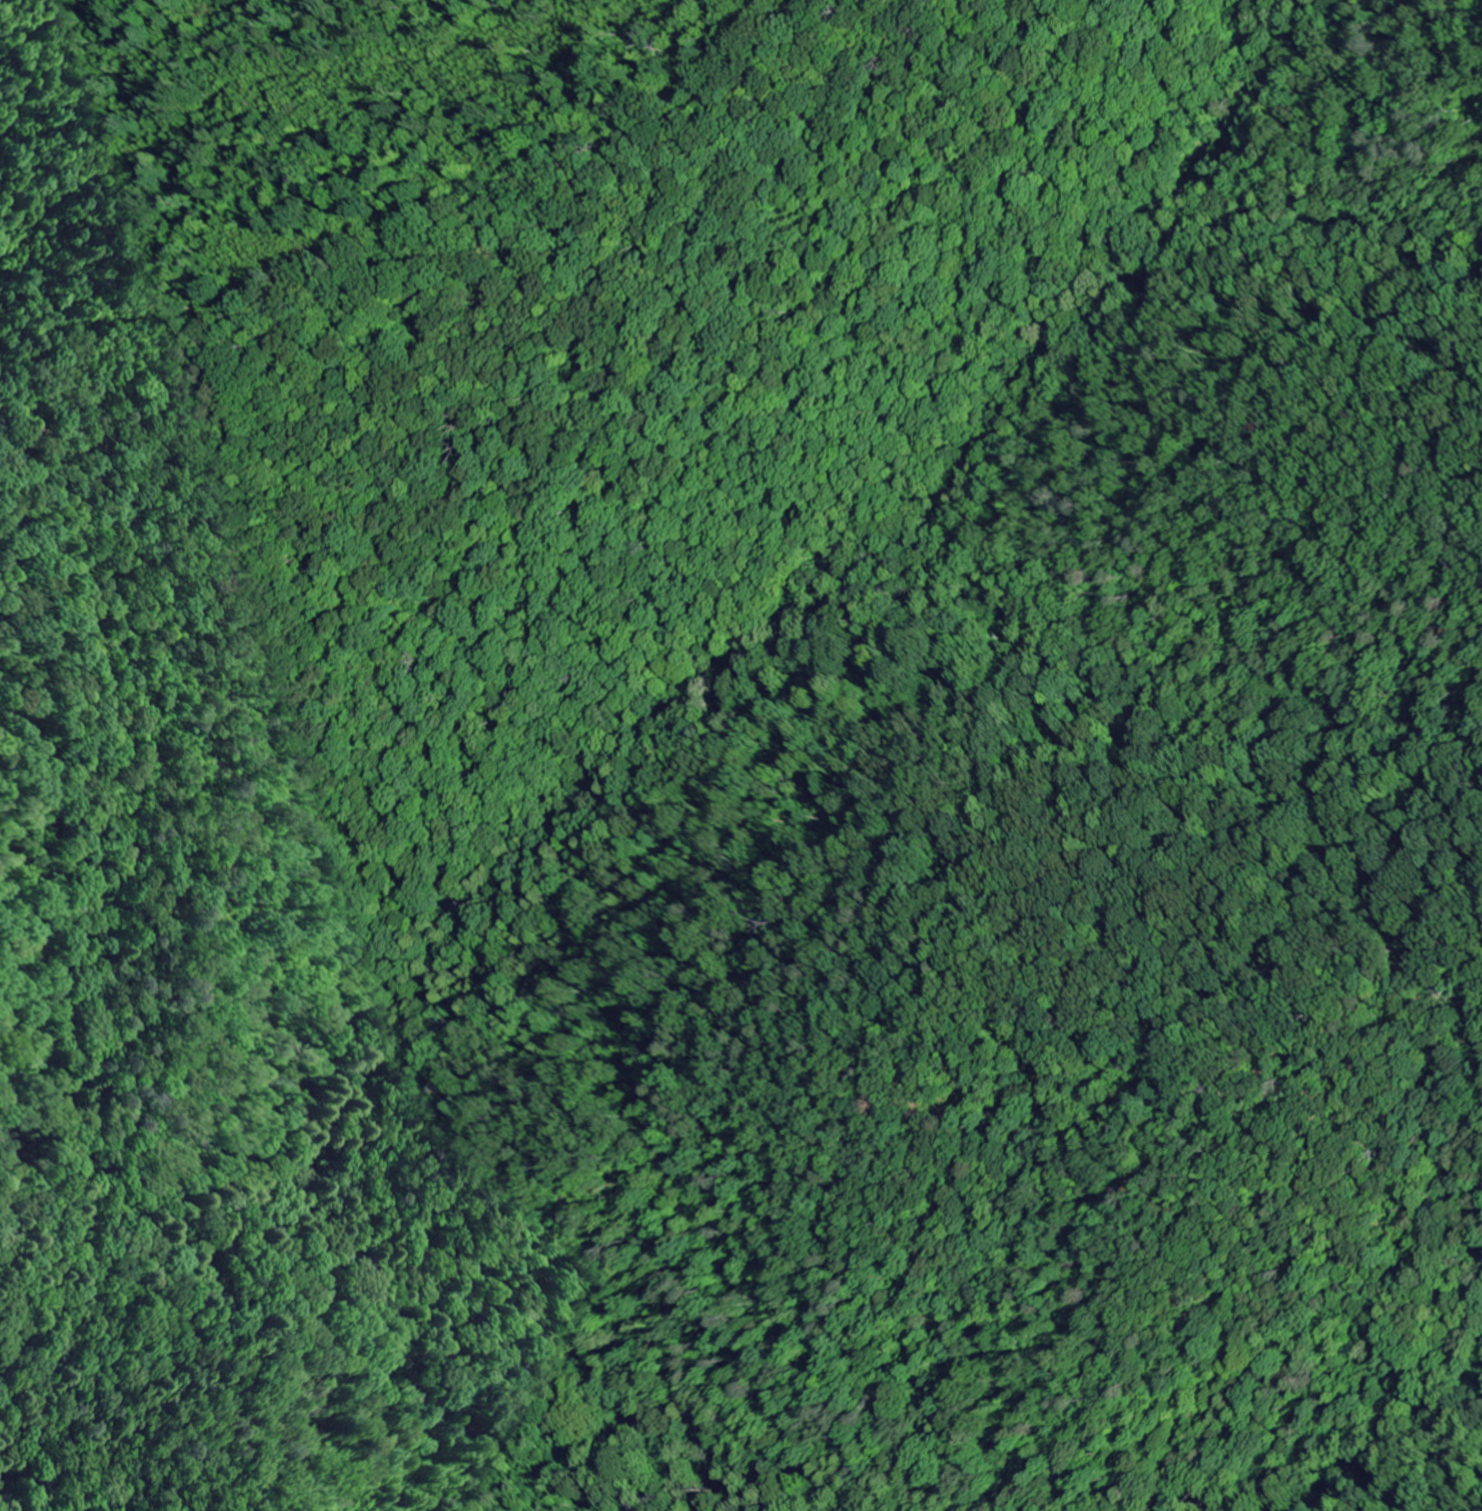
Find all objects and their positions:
road: (1049, 411)
road: (325, 1042)

